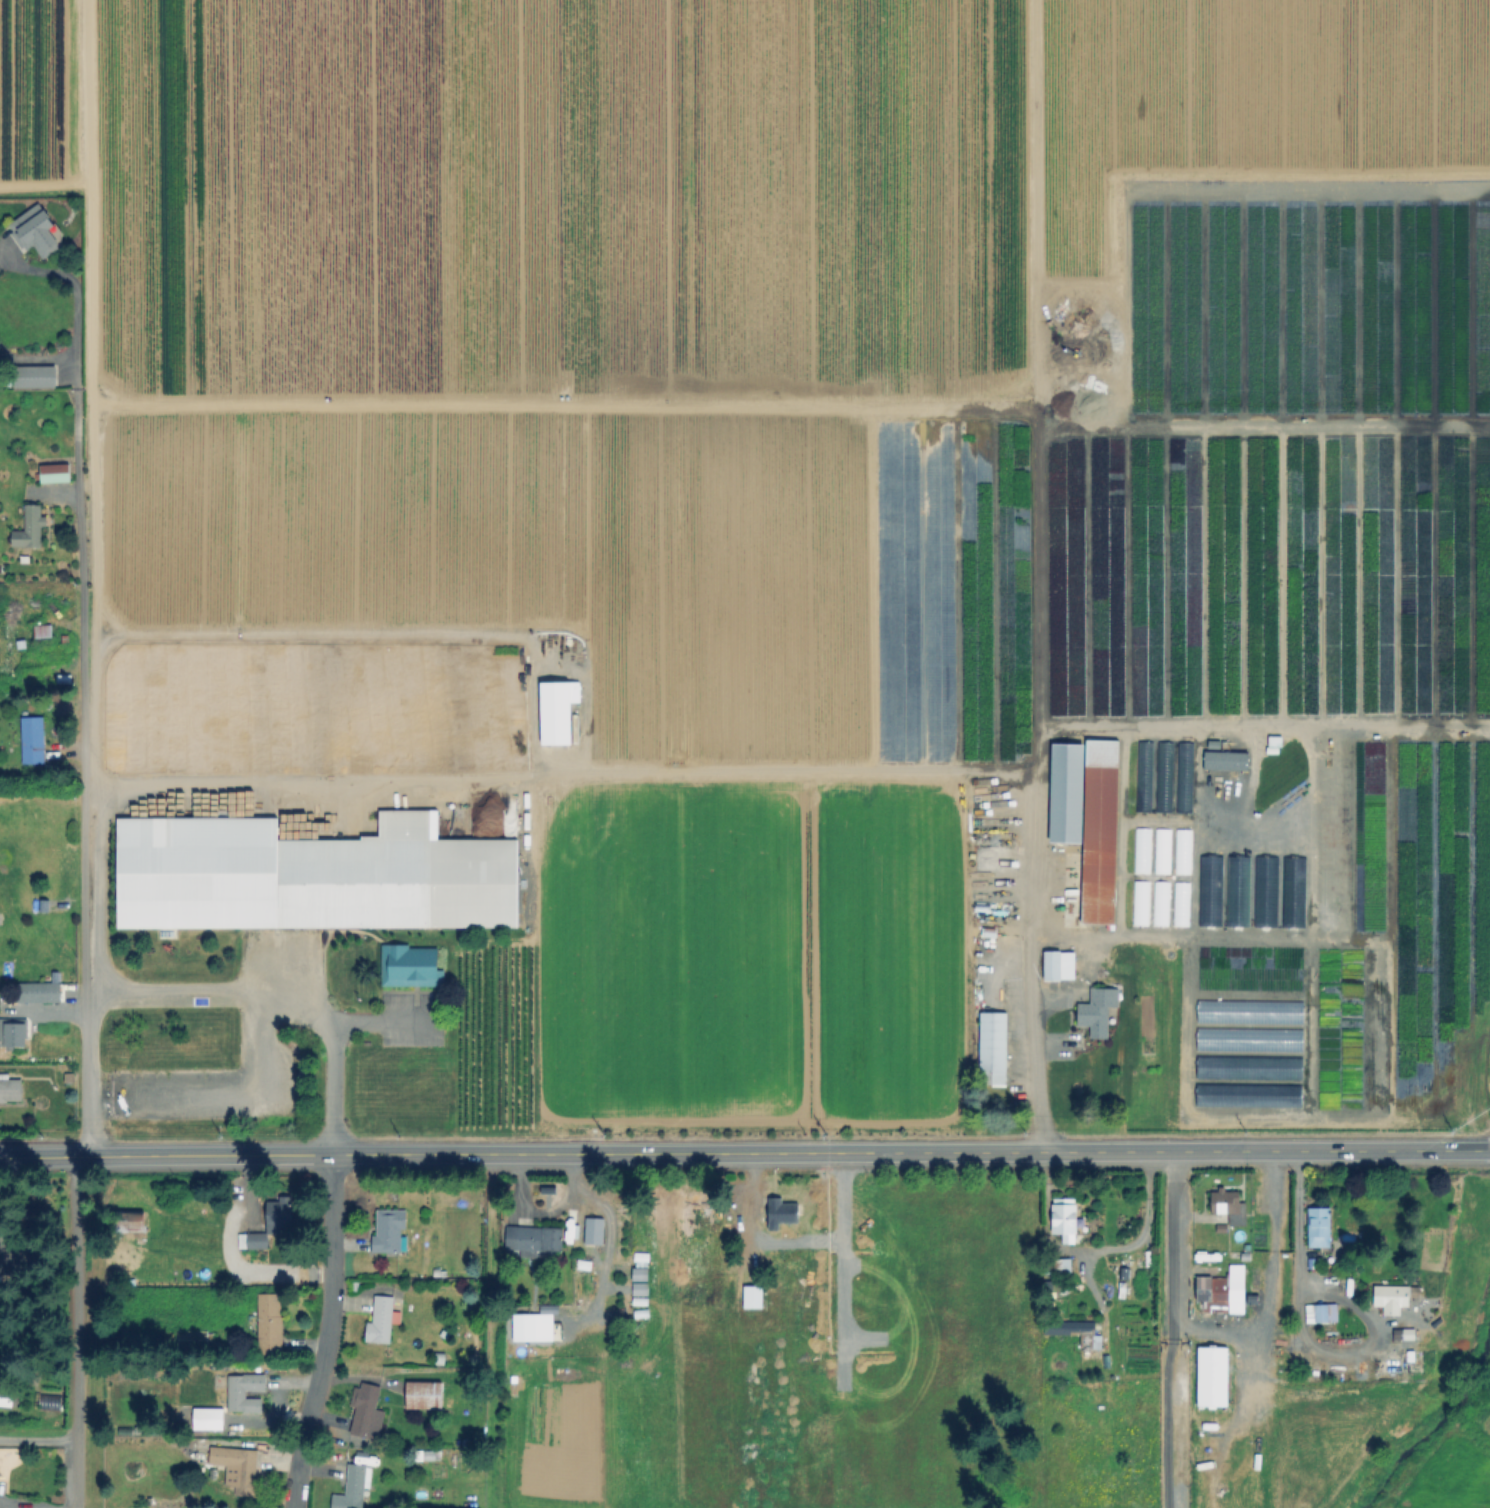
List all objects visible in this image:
road: (88, 202)
building: (38, 231)
building: (36, 377)
building: (55, 472)
building: (32, 526)
building: (43, 631)
building: (553, 712)
road: (86, 730)
building: (34, 742)
building: (1223, 760)
road: (750, 769)
building: (1183, 777)
building: (1101, 833)
building: (1140, 849)
building: (1160, 850)
building: (1180, 850)
building: (311, 877)
building: (1138, 902)
building: (1159, 902)
road: (1161, 934)
building: (1059, 965)
building: (412, 968)
building: (39, 994)
road: (276, 999)
building: (1099, 1012)
road: (374, 1030)
building: (13, 1036)
building: (991, 1044)
building: (10, 1091)
road: (745, 1153)
building: (1228, 1206)
building: (782, 1213)
building: (279, 1214)
building: (1065, 1218)
building: (131, 1220)
building: (1316, 1228)
building: (594, 1229)
building: (391, 1230)
building: (538, 1239)
building: (255, 1242)
building: (16, 1260)
building: (1060, 1266)
building: (638, 1273)
building: (638, 1287)
road: (1268, 1288)
building: (1223, 1290)
building: (753, 1294)
building: (1391, 1299)
building: (1319, 1312)
building: (380, 1321)
building: (272, 1326)
building: (525, 1328)
road: (1169, 1328)
road: (81, 1331)
road: (329, 1332)
road: (1299, 1332)
building: (1080, 1333)
road: (1282, 1338)
building: (191, 1339)
crop: (829, 1342)
building: (1392, 1360)
building: (1213, 1377)
building: (246, 1394)
building: (425, 1396)
building: (8, 1397)
building: (51, 1400)
building: (365, 1414)
building: (206, 1418)
road: (39, 1439)
building: (240, 1468)
building: (354, 1487)

